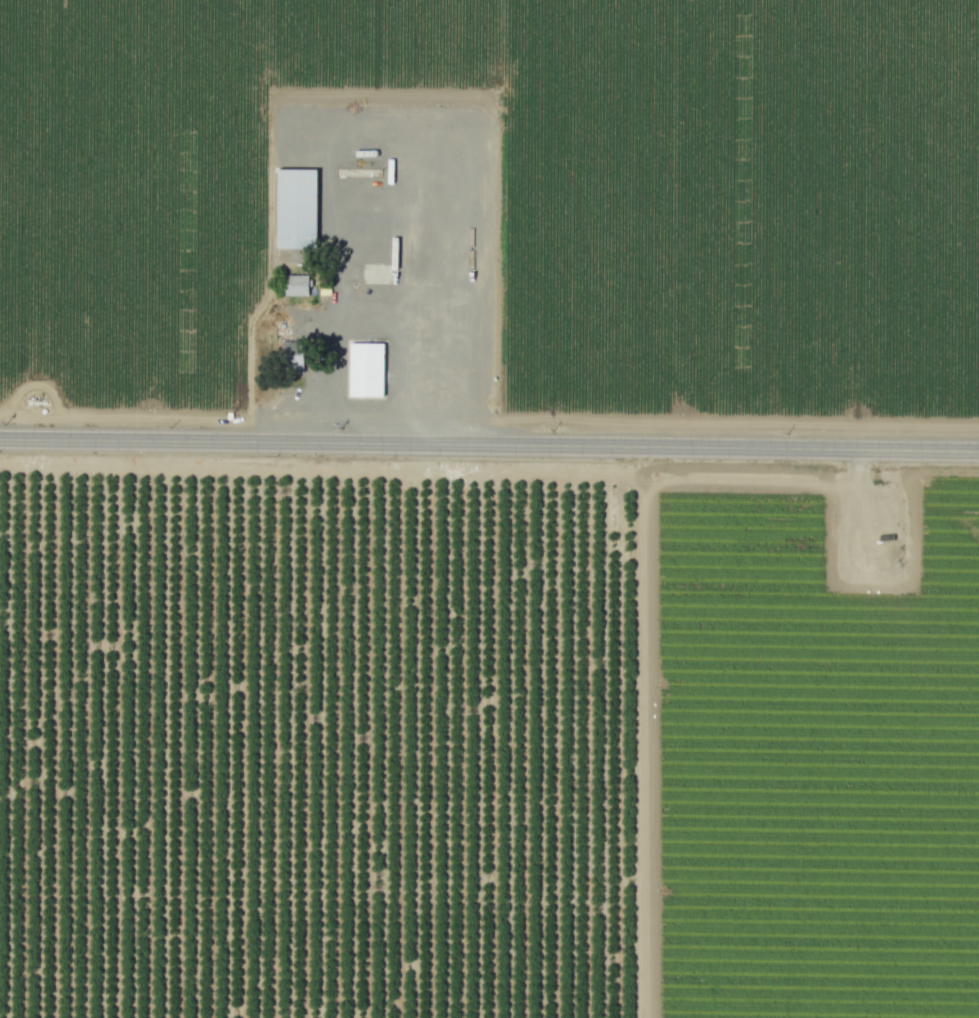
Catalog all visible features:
road: (329, 156)
building: (295, 208)
building: (295, 285)
road: (444, 290)
road: (334, 325)
building: (365, 369)
road: (489, 444)

